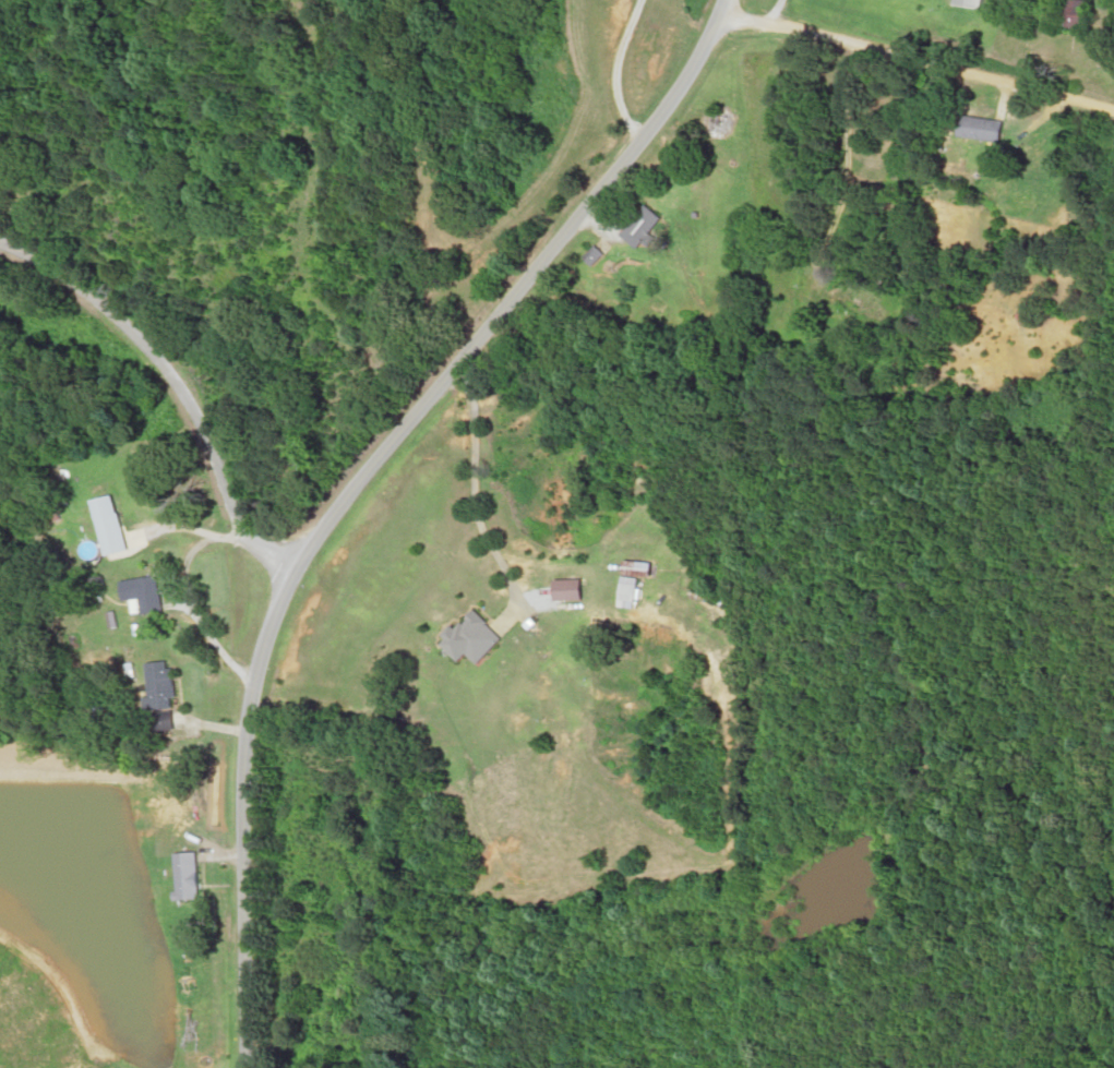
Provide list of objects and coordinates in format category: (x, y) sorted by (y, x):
road: (733, 4)
building: (980, 4)
building: (1083, 15)
road: (924, 51)
road: (627, 61)
building: (723, 120)
building: (986, 127)
building: (652, 223)
building: (603, 253)
road: (512, 284)
building: (835, 304)
building: (1034, 312)
road: (178, 372)
building: (116, 524)
building: (642, 580)
building: (152, 592)
building: (482, 637)
building: (167, 685)
road: (252, 812)
building: (193, 876)

